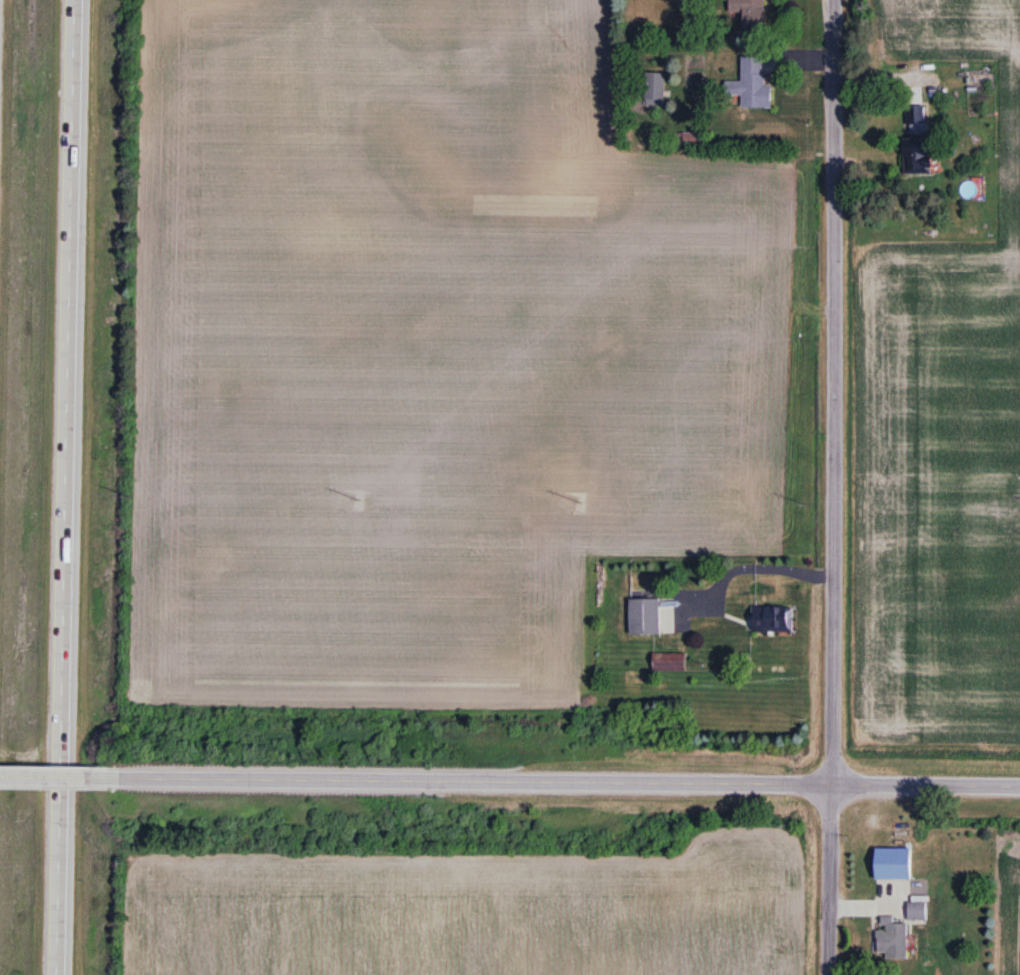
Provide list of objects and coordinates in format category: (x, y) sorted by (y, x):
building: (750, 13)
building: (752, 86)
building: (656, 91)
building: (916, 117)
building: (917, 159)
road: (68, 487)
road: (832, 487)
building: (645, 616)
building: (774, 618)
building: (669, 661)
road: (68, 774)
road: (484, 777)
road: (926, 780)
building: (918, 911)
building: (892, 940)

